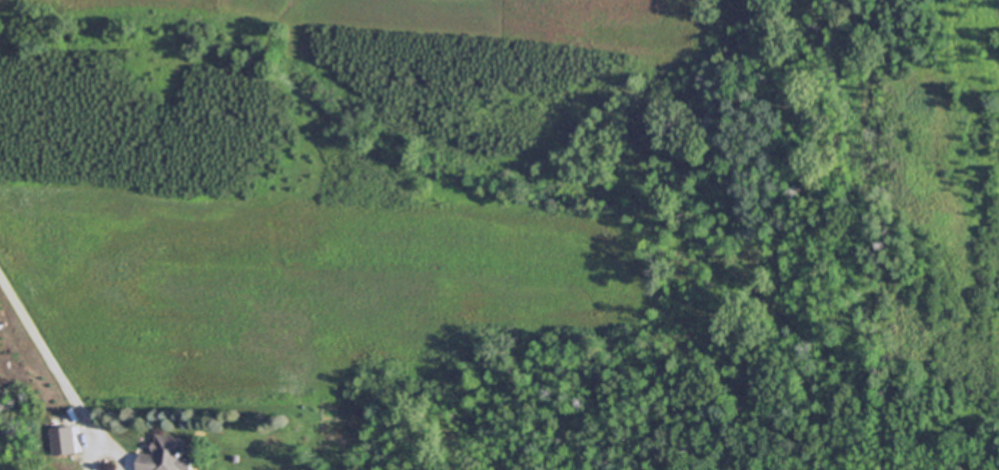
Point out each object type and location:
road: (48, 355)
building: (61, 441)
road: (117, 449)
road: (92, 454)
building: (164, 454)

